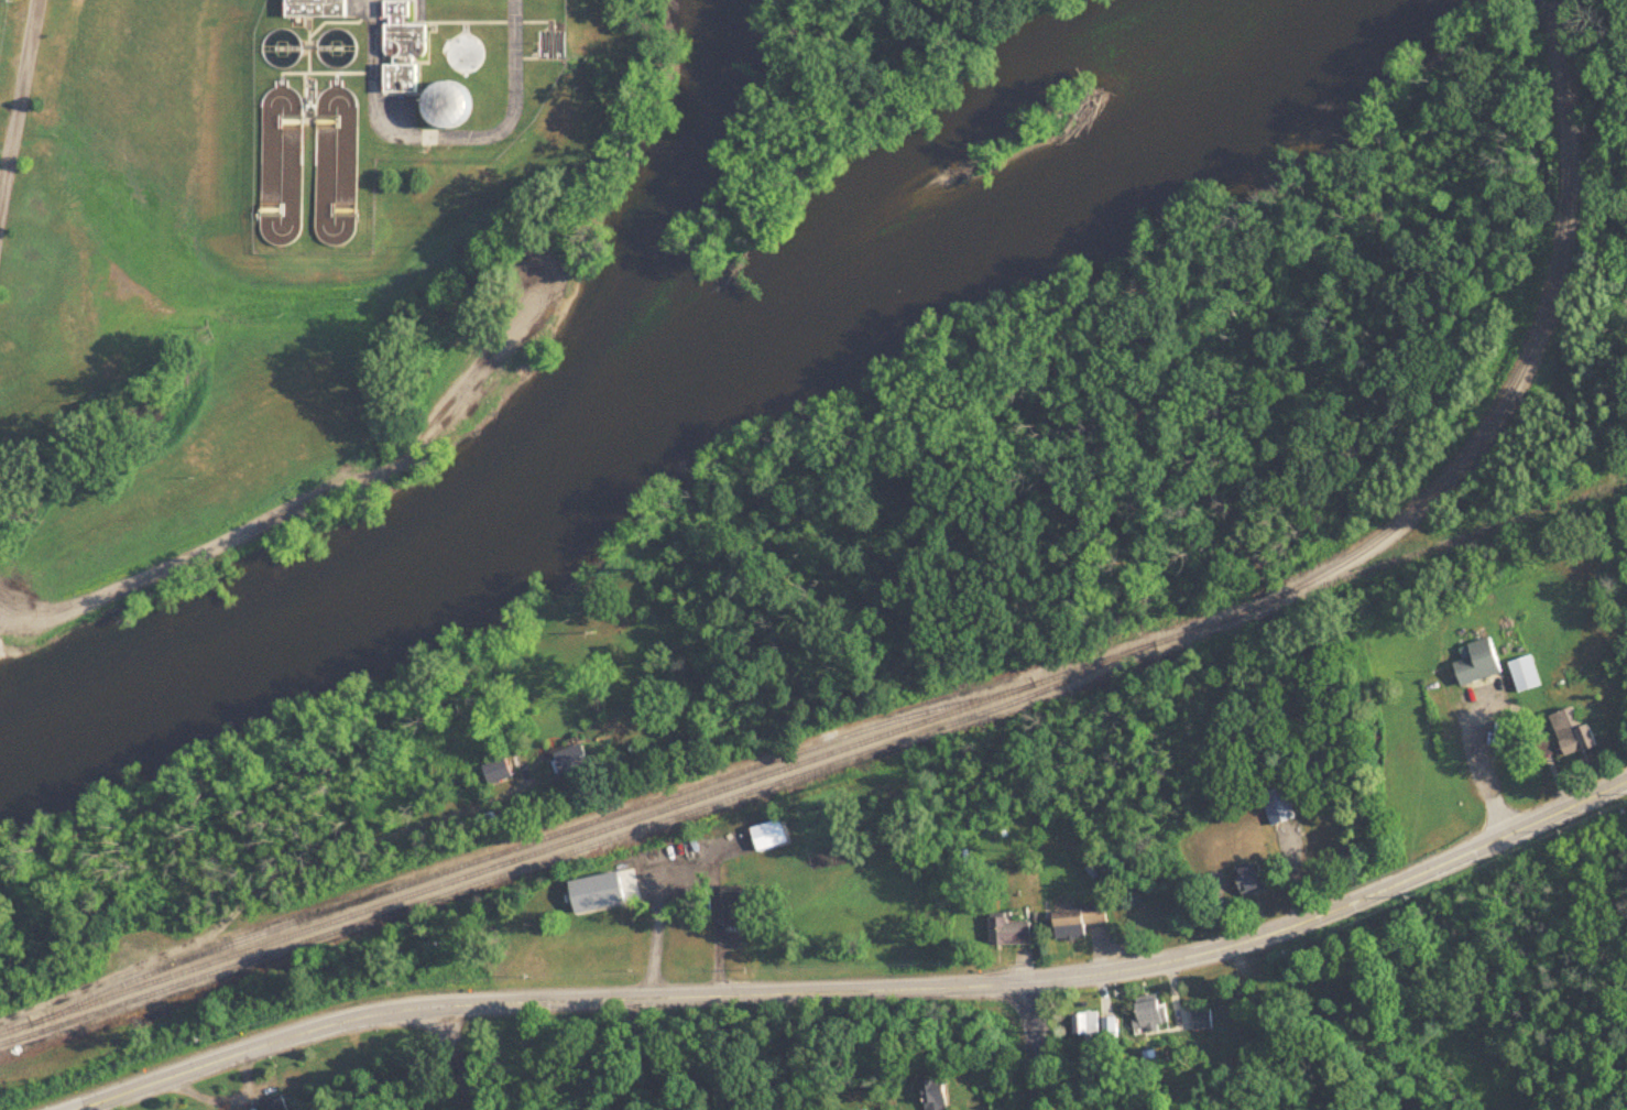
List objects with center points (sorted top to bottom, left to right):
railway: (1560, 2)
building: (319, 8)
building: (284, 48)
building: (405, 50)
building: (467, 54)
building: (455, 105)
road: (19, 124)
river: (694, 196)
railway: (1524, 376)
river: (677, 381)
road: (306, 508)
building: (1479, 663)
building: (1527, 674)
building: (1575, 732)
building: (576, 761)
road: (1490, 771)
building: (499, 772)
railway: (620, 823)
railway: (523, 845)
railway: (565, 856)
road: (685, 870)
building: (1256, 881)
road: (1339, 908)
building: (1082, 921)
building: (1013, 933)
road: (549, 1003)
building: (1154, 1016)
building: (1203, 1020)
building: (1089, 1026)
building: (1110, 1029)
road: (1035, 1046)
road: (461, 1058)
building: (288, 1093)
building: (942, 1097)

